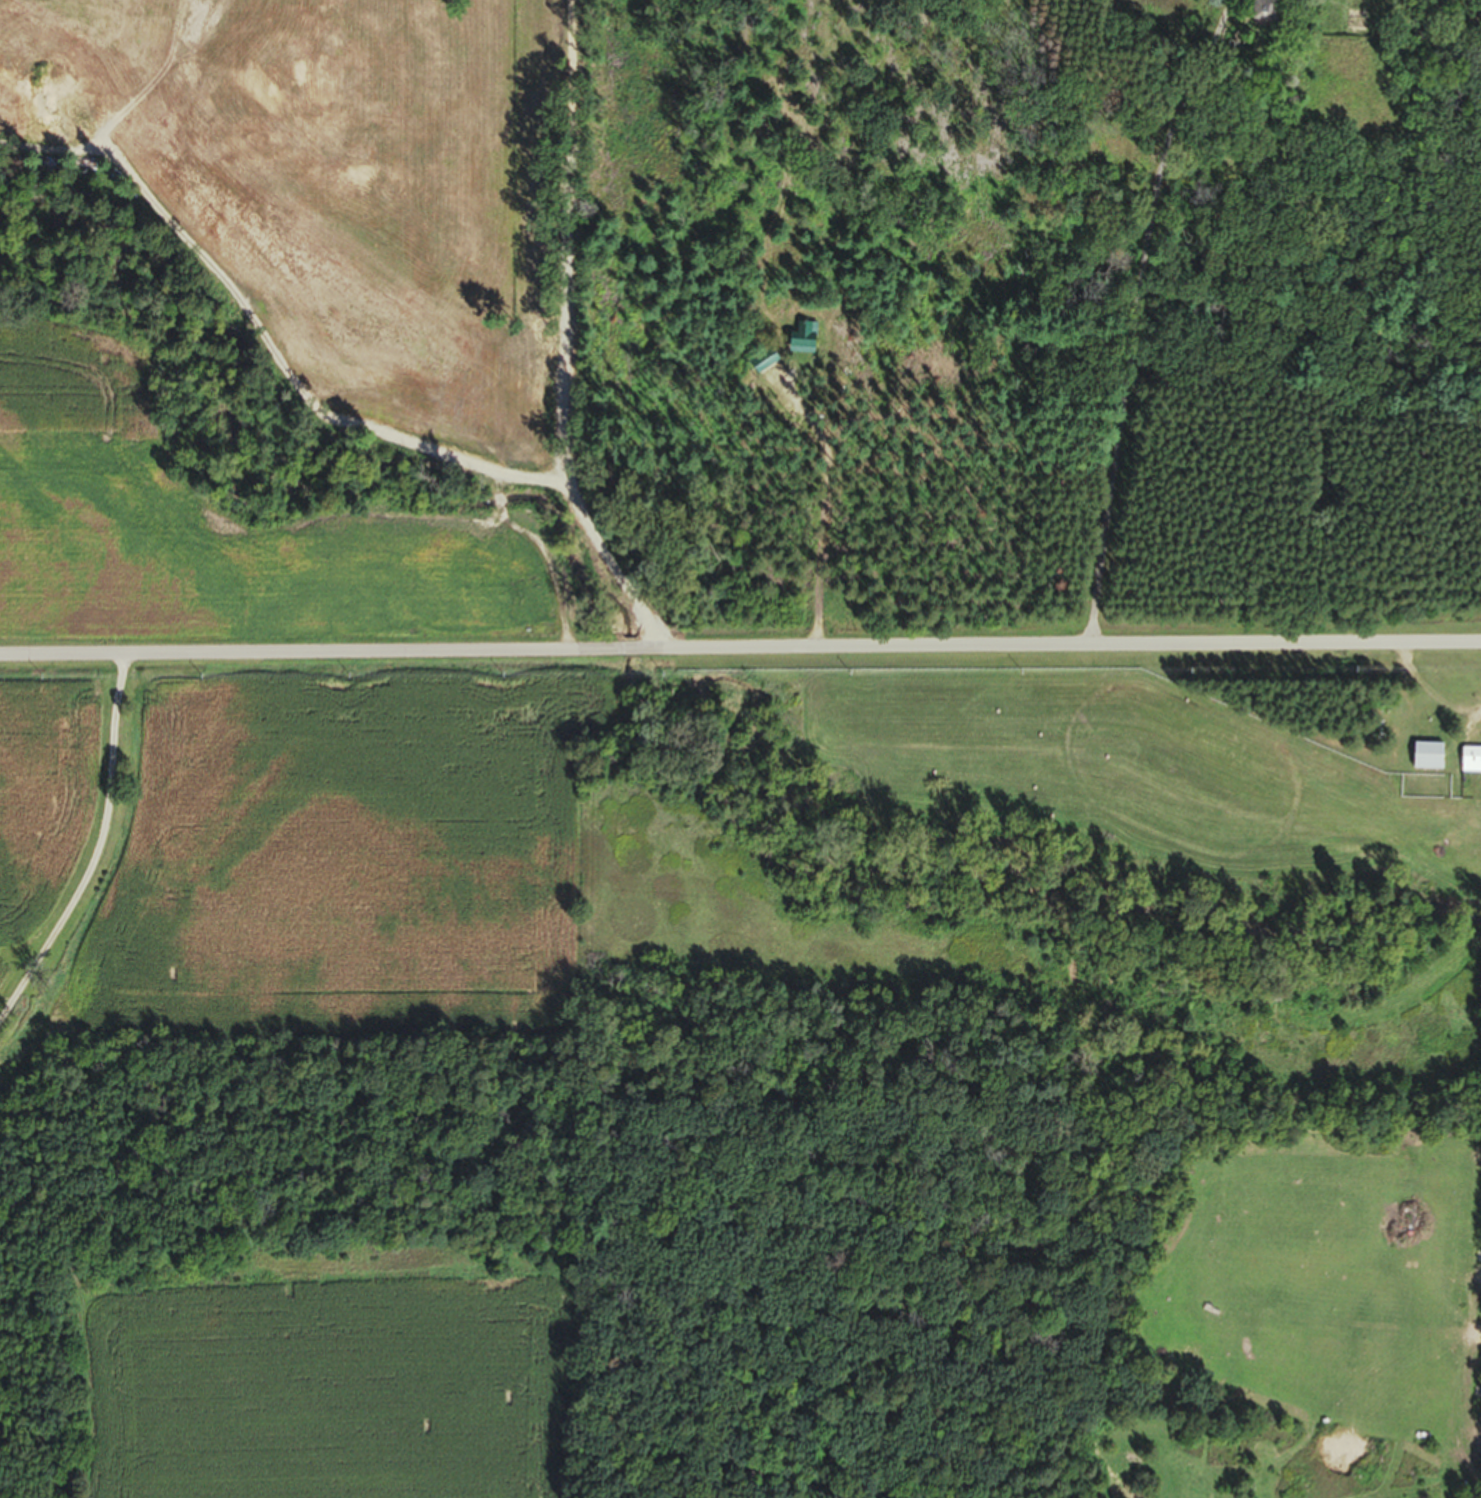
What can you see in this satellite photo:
building: (1332, 19)
building: (798, 342)
road: (1169, 353)
building: (768, 367)
road: (511, 571)
road: (740, 647)
building: (1422, 760)
building: (1468, 764)
road: (98, 851)

